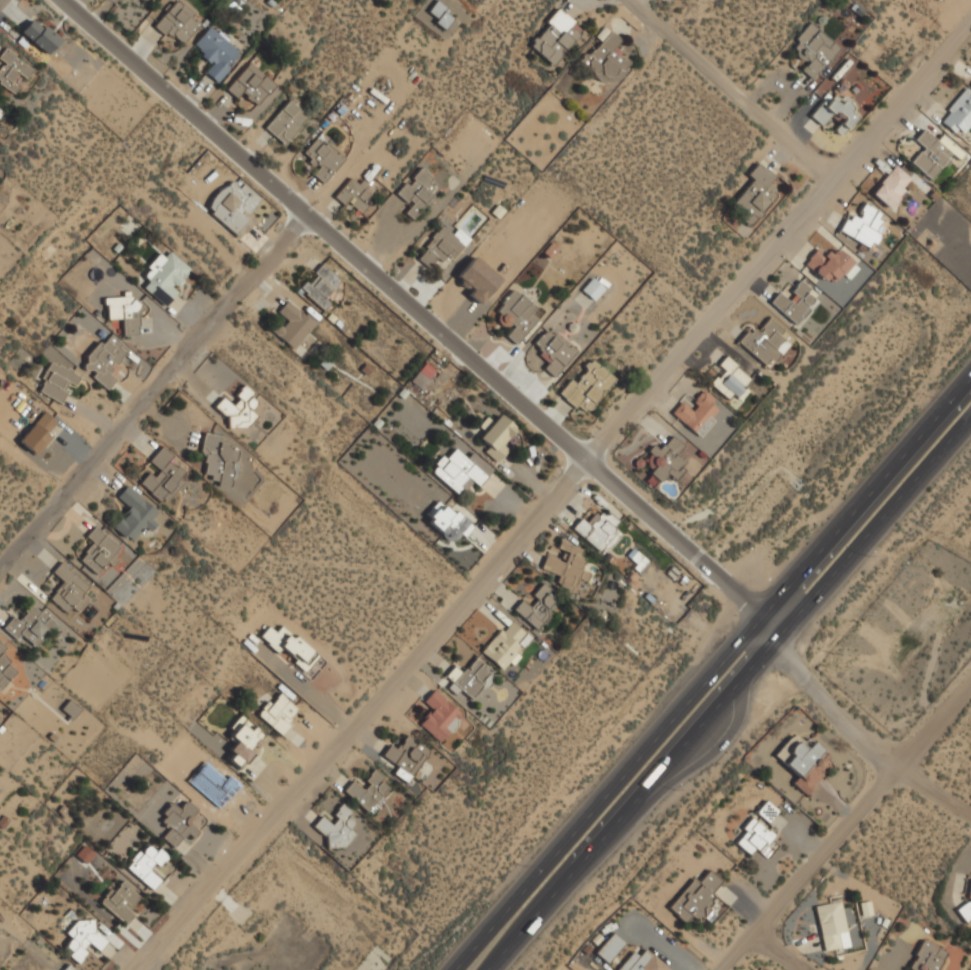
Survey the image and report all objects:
building: (440, 13)
building: (179, 22)
building: (41, 35)
building: (555, 36)
building: (814, 49)
building: (217, 52)
building: (606, 59)
building: (12, 70)
building: (251, 83)
road: (736, 85)
building: (970, 86)
building: (1, 109)
building: (837, 111)
building: (959, 112)
building: (286, 121)
building: (932, 153)
building: (323, 158)
building: (892, 186)
building: (416, 191)
building: (354, 194)
building: (754, 195)
building: (234, 206)
building: (863, 225)
building: (443, 246)
building: (830, 264)
building: (165, 276)
building: (477, 279)
building: (322, 285)
building: (592, 289)
building: (795, 301)
building: (126, 311)
road: (426, 315)
building: (516, 315)
building: (293, 323)
building: (766, 340)
building: (555, 350)
building: (105, 358)
building: (423, 375)
building: (731, 378)
building: (57, 380)
building: (588, 386)
road: (160, 403)
building: (239, 409)
building: (697, 413)
building: (38, 433)
building: (497, 435)
building: (220, 458)
building: (669, 460)
building: (461, 469)
building: (164, 475)
road: (554, 492)
building: (135, 513)
building: (448, 521)
building: (597, 529)
building: (100, 551)
building: (568, 565)
building: (69, 589)
building: (537, 606)
building: (31, 624)
building: (290, 645)
building: (505, 645)
building: (2, 647)
road: (706, 668)
building: (5, 671)
building: (470, 678)
road: (728, 692)
building: (279, 712)
building: (440, 715)
building: (244, 742)
building: (406, 756)
building: (804, 762)
road: (684, 776)
road: (936, 785)
building: (368, 789)
building: (768, 811)
building: (182, 821)
building: (337, 827)
road: (843, 827)
building: (757, 839)
building: (84, 854)
building: (147, 863)
building: (696, 897)
building: (122, 900)
building: (964, 910)
building: (831, 924)
building: (87, 940)
building: (610, 947)
road: (790, 947)
building: (928, 956)
building: (374, 959)
building: (643, 962)
building: (69, 967)

